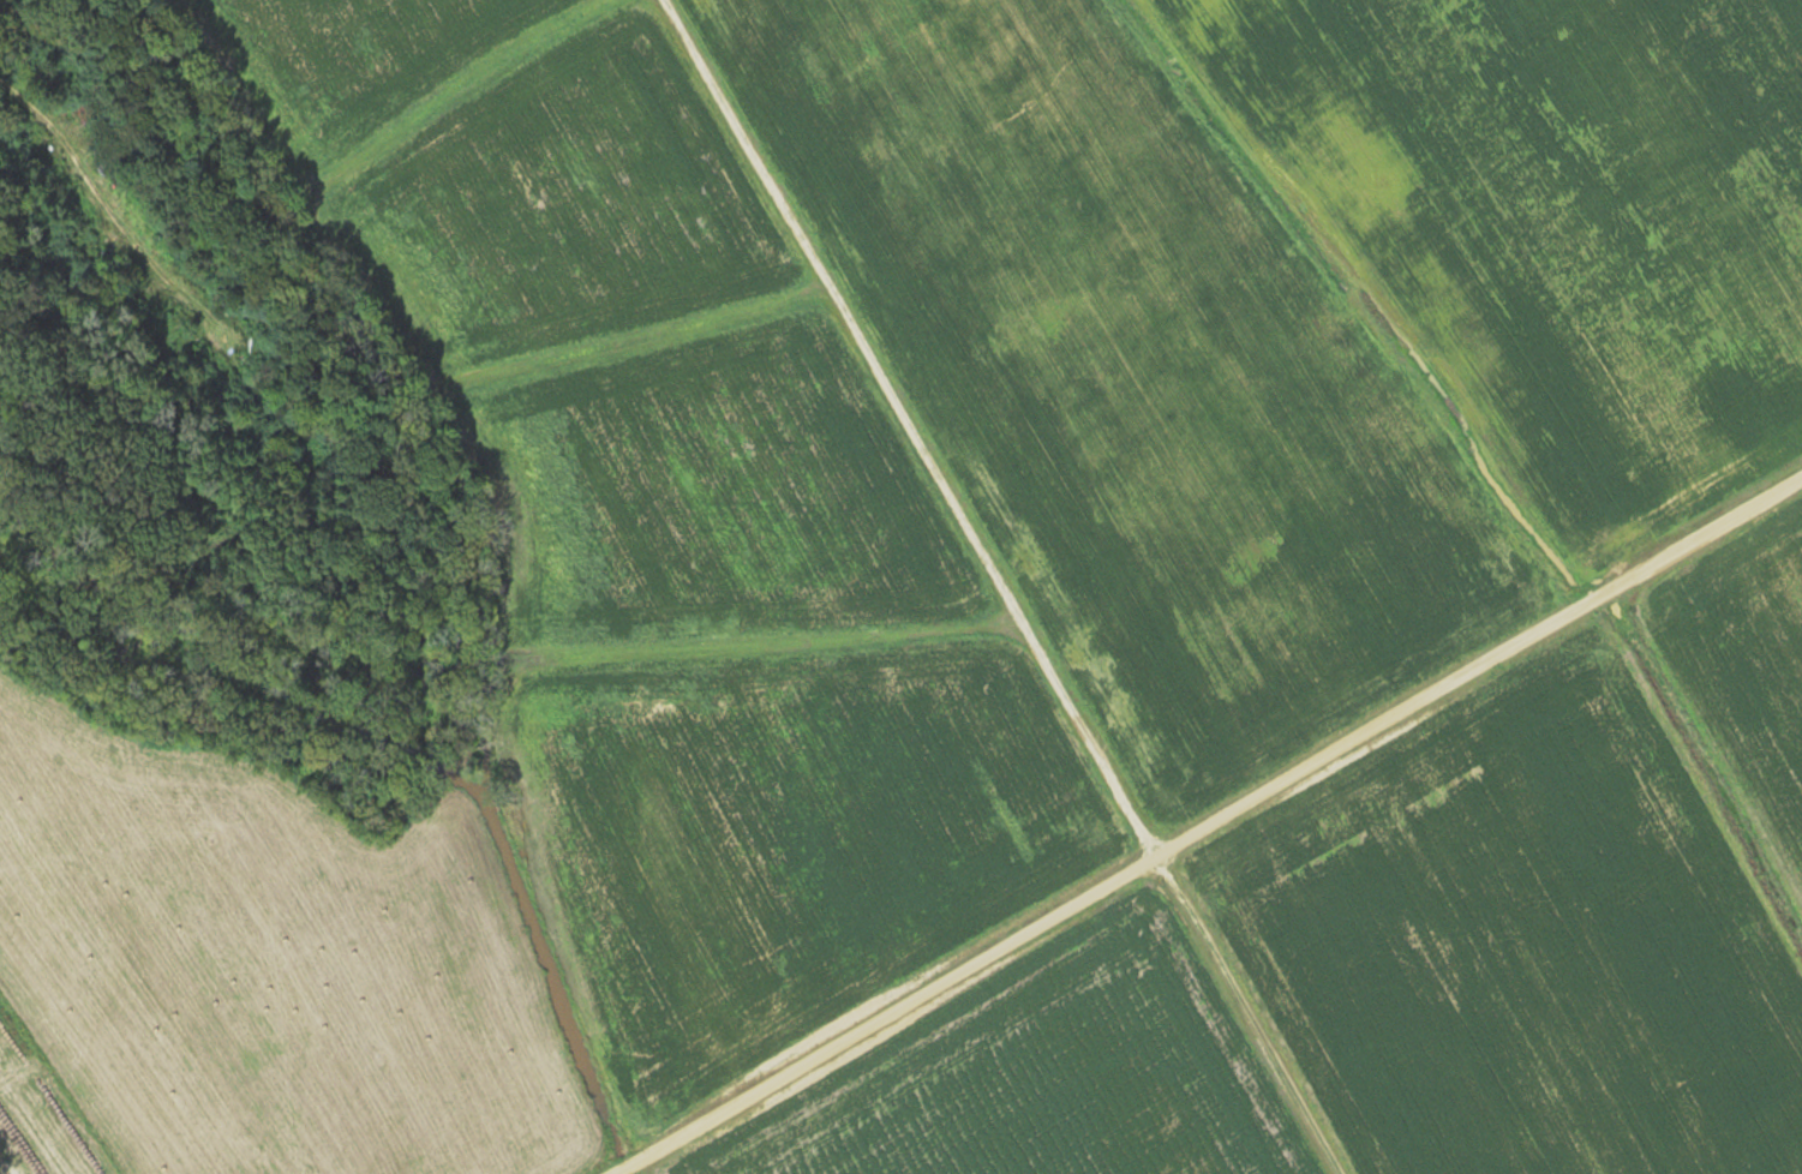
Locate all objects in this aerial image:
road: (954, 378)
road: (1210, 815)
road: (1244, 1011)

